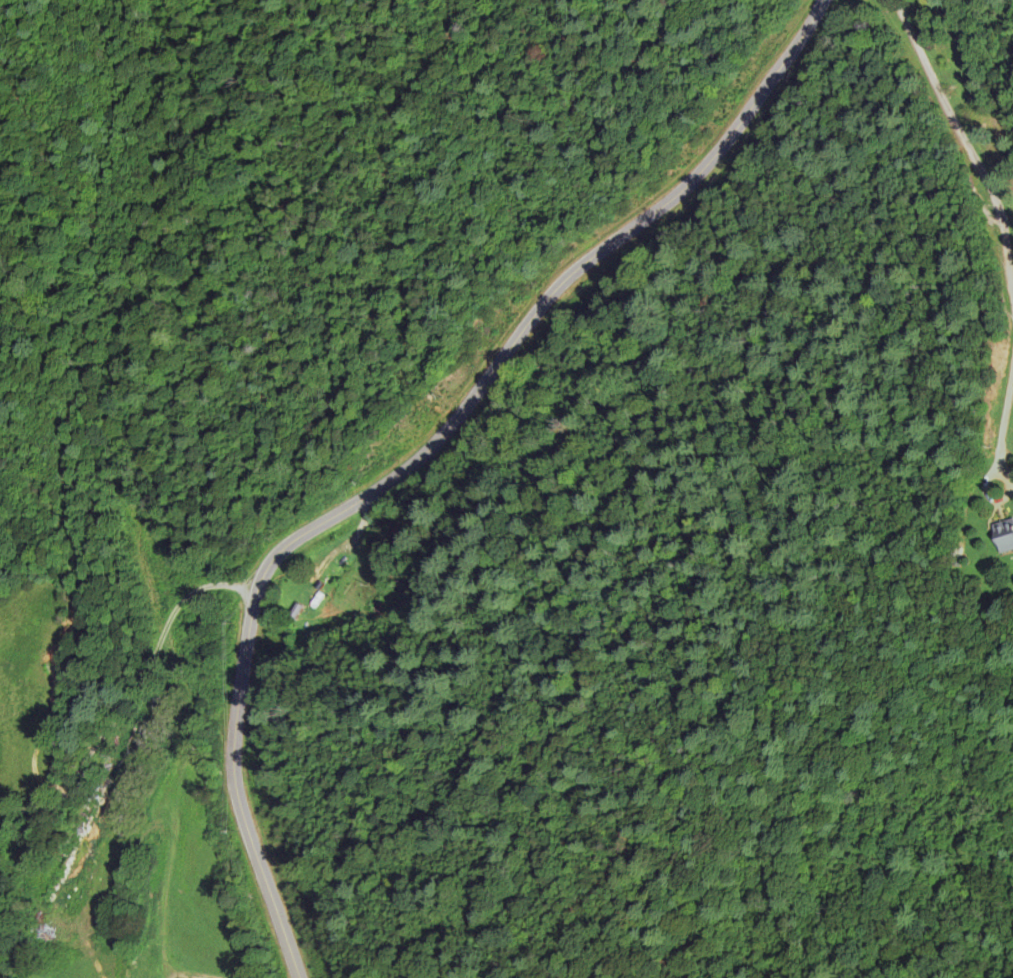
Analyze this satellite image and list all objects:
road: (962, 140)
road: (1004, 431)
road: (410, 445)
building: (1003, 535)
road: (128, 694)
building: (101, 815)

